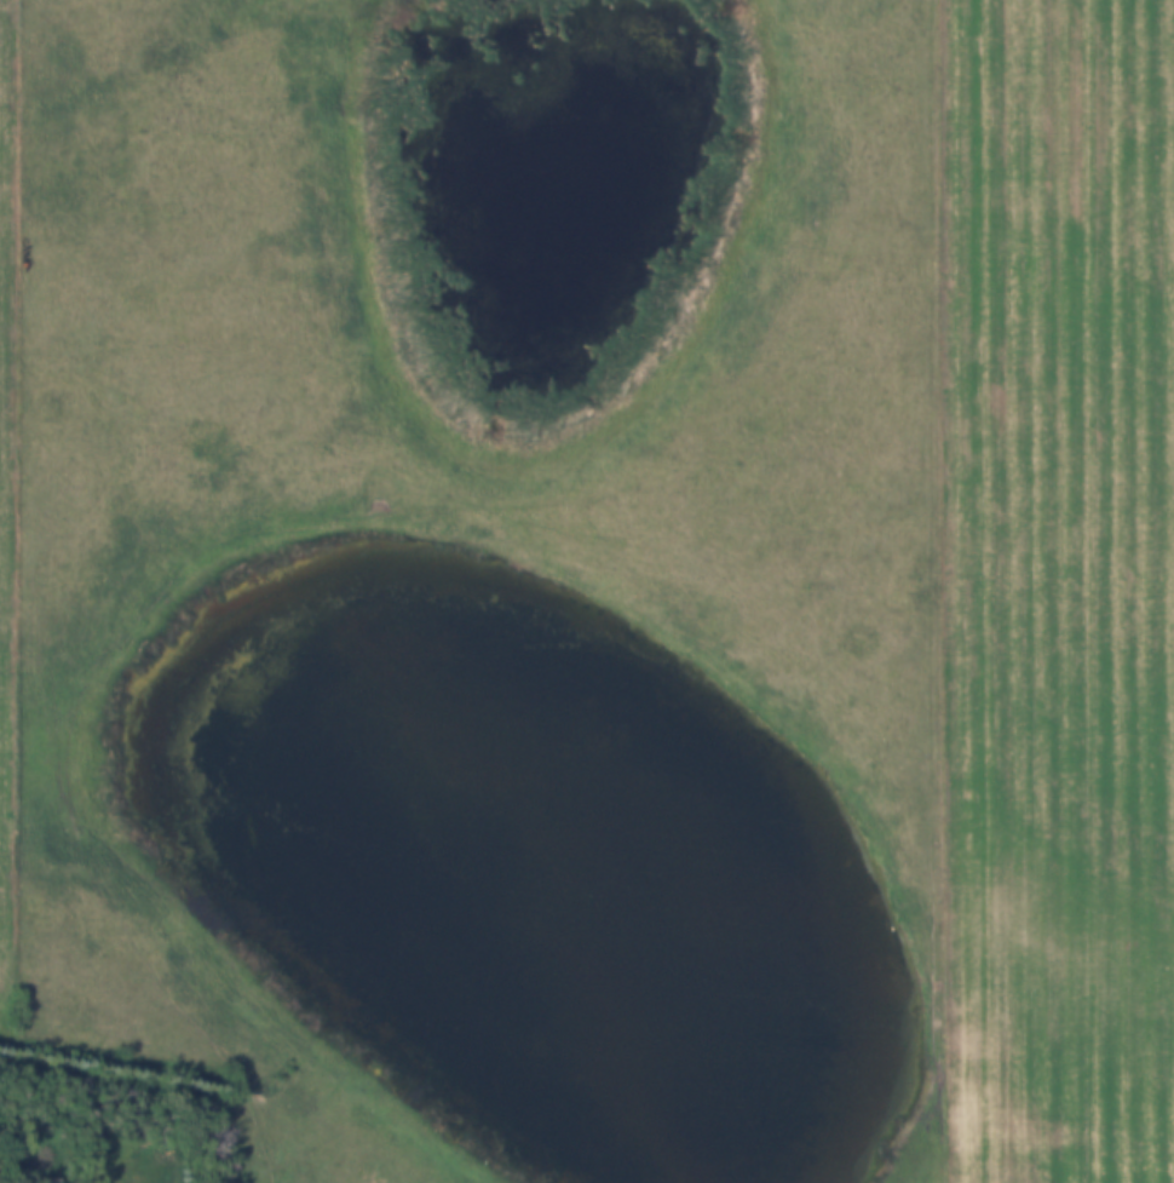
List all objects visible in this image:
building: (39, 1181)

